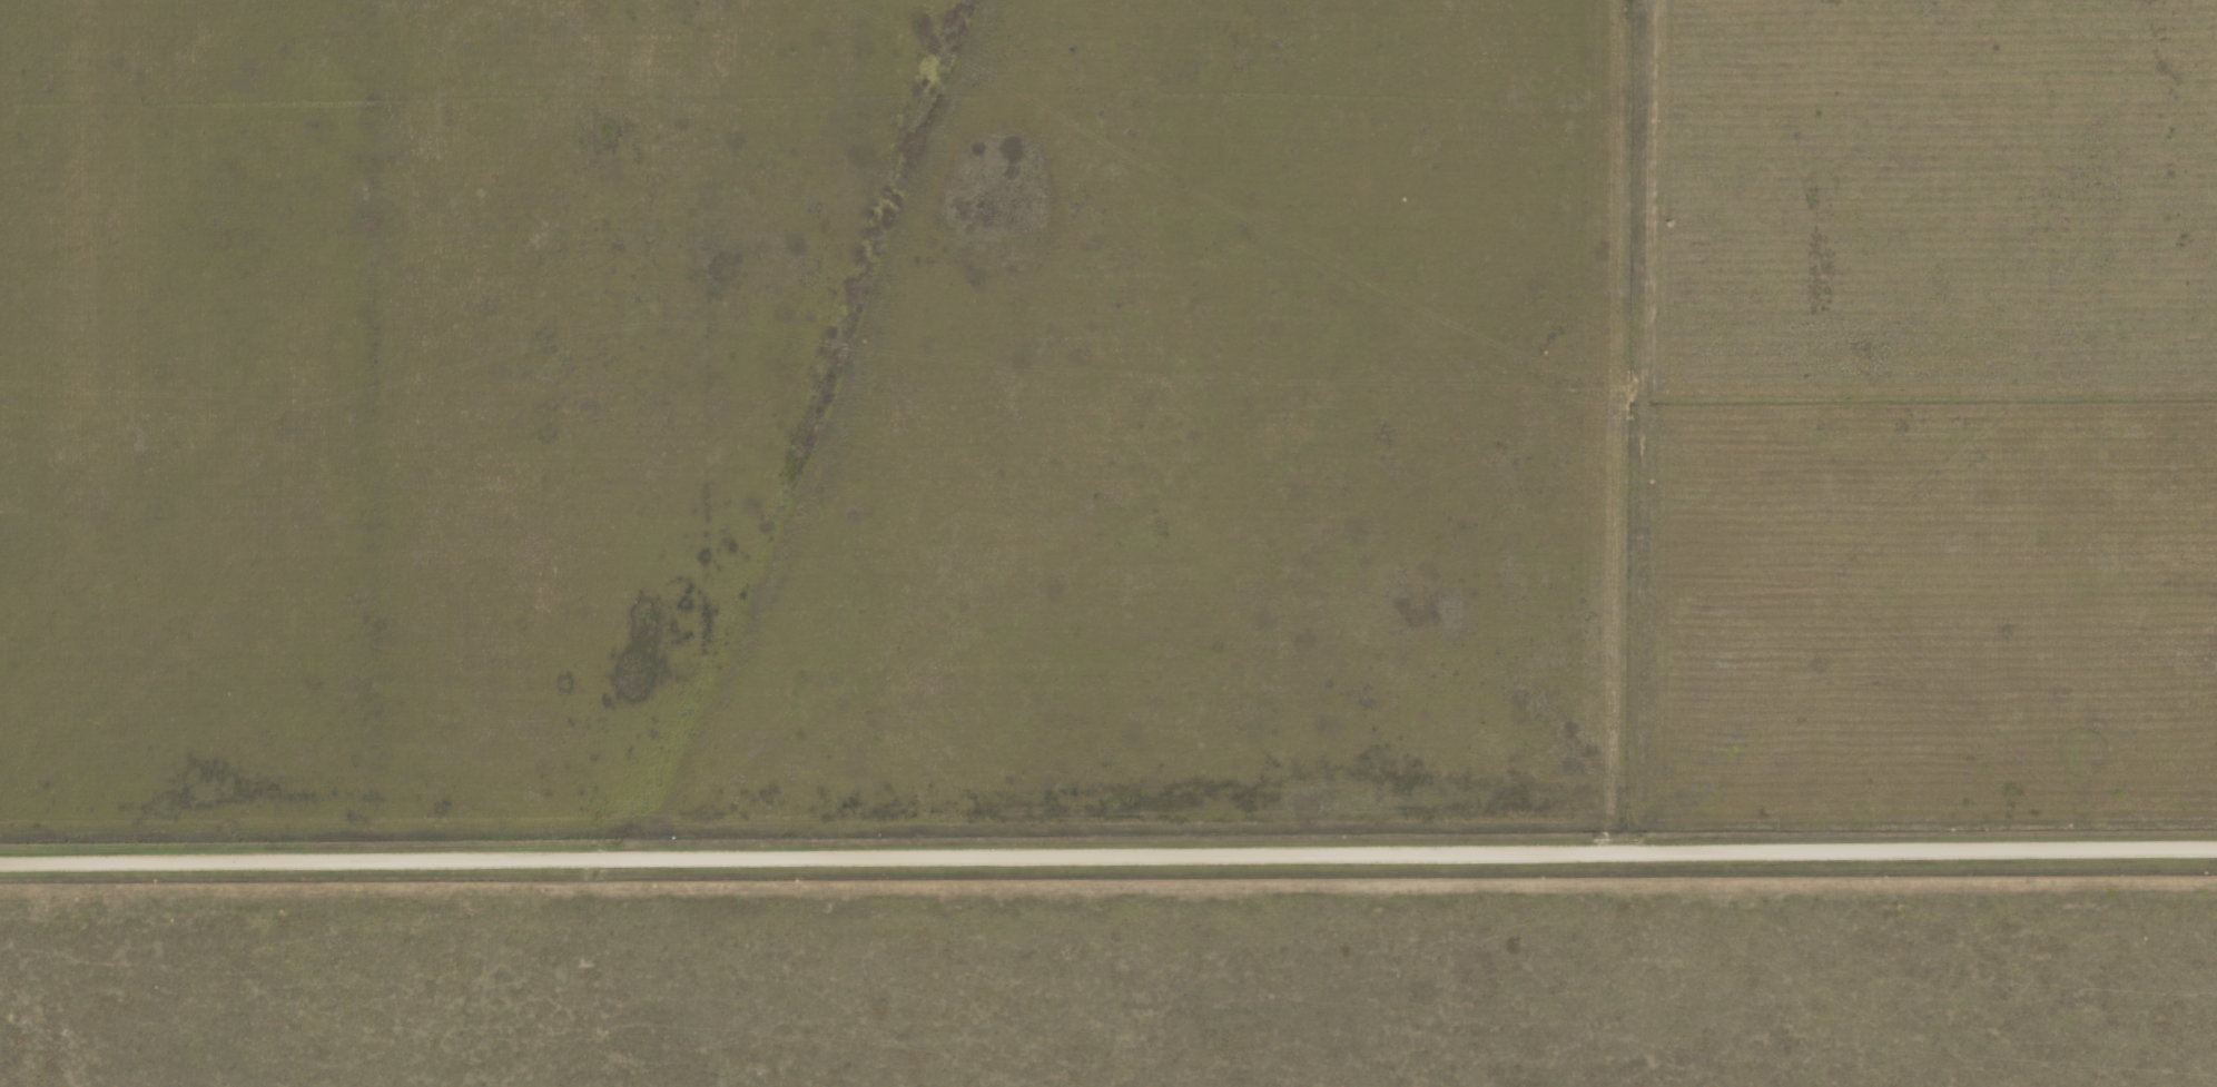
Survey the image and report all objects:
road: (1107, 853)

